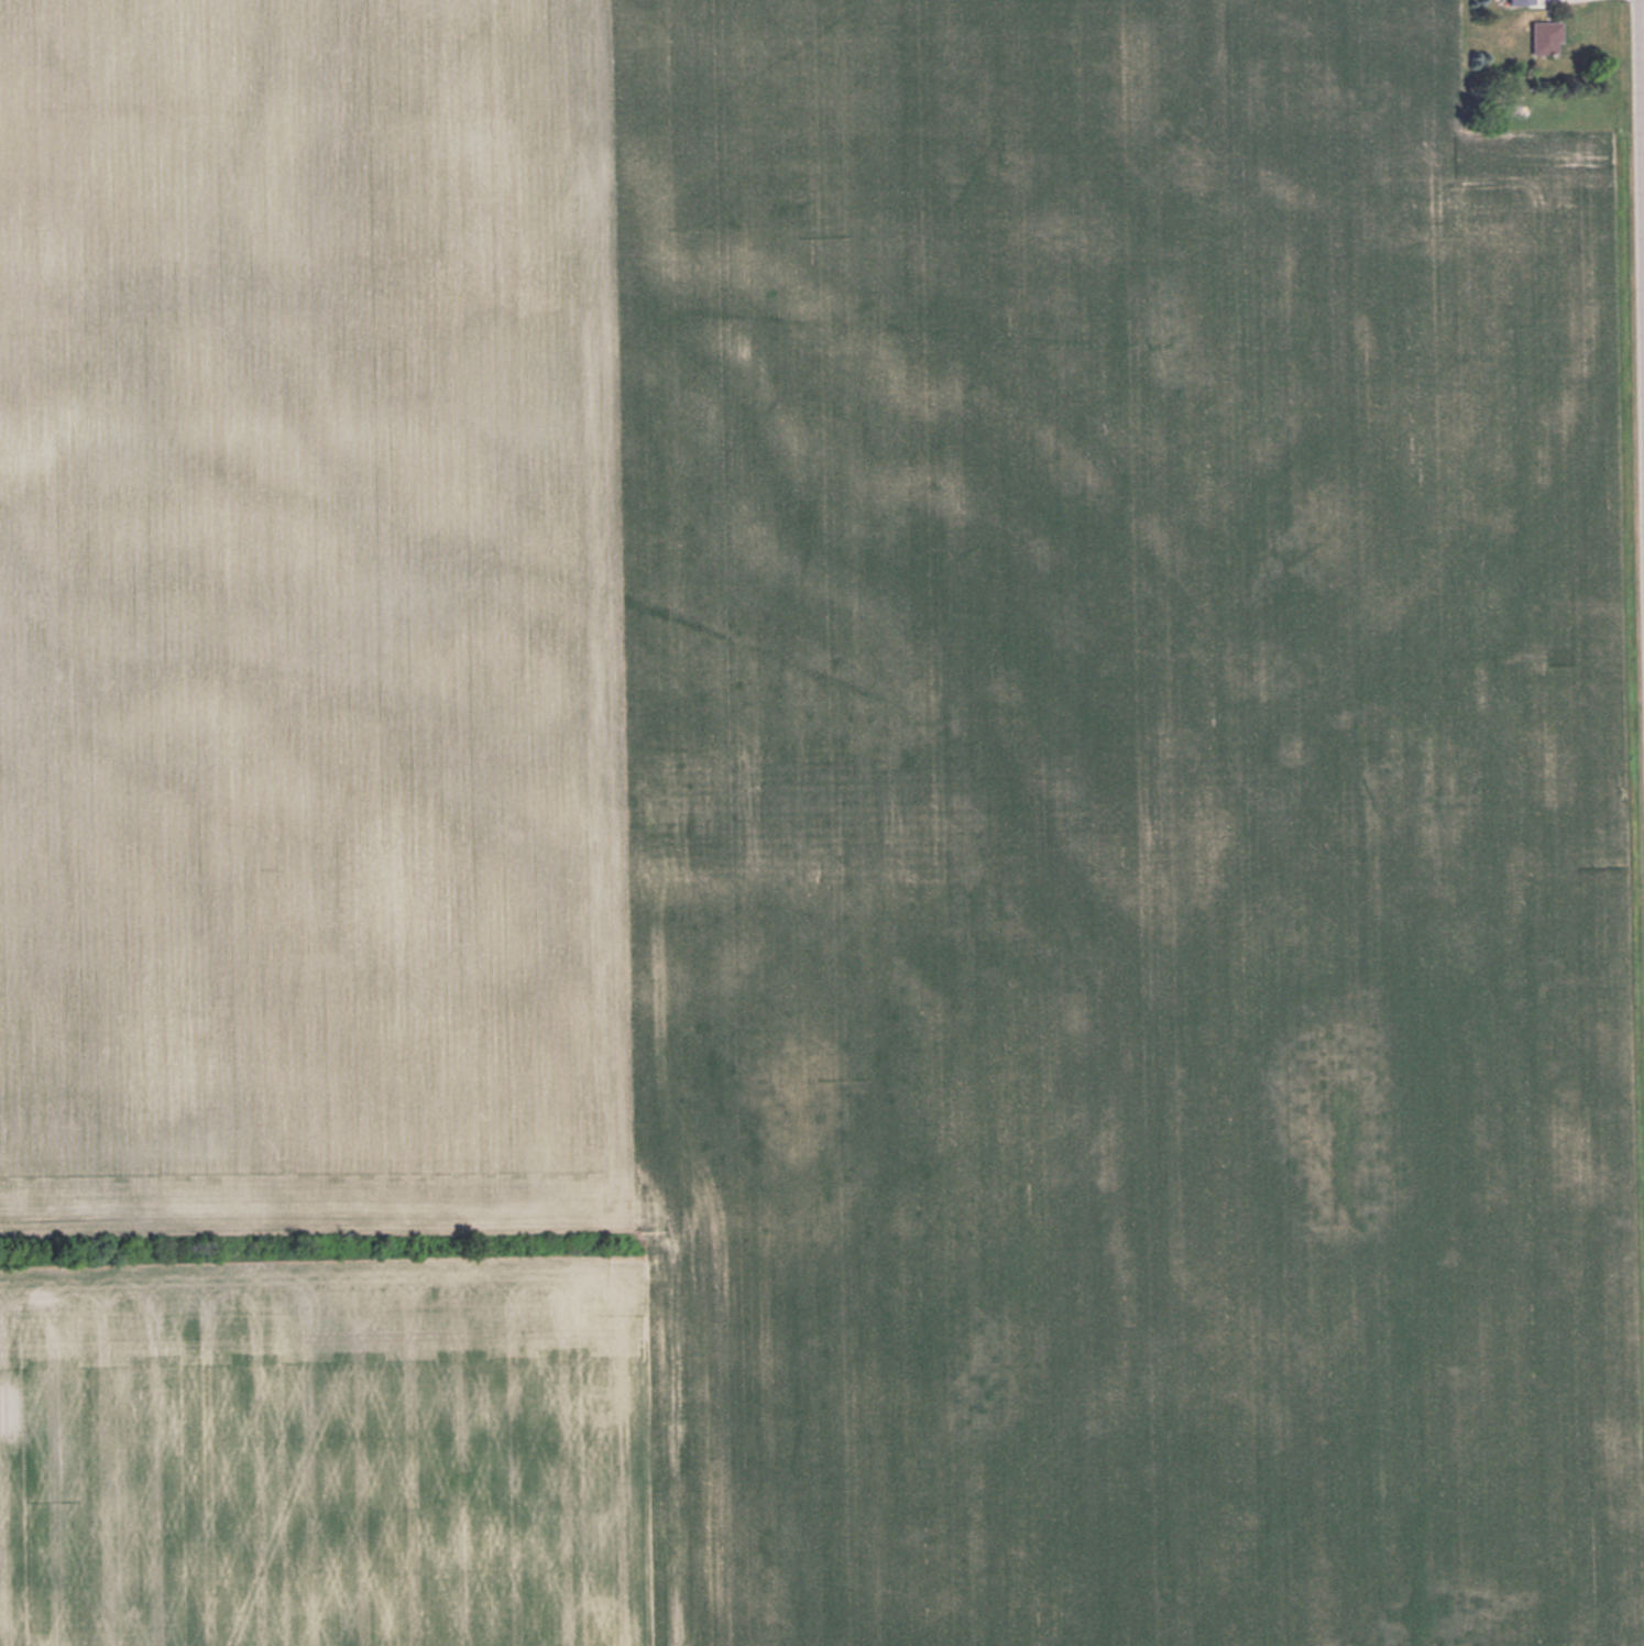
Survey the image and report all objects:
building: (1514, 1)
building: (1538, 36)

